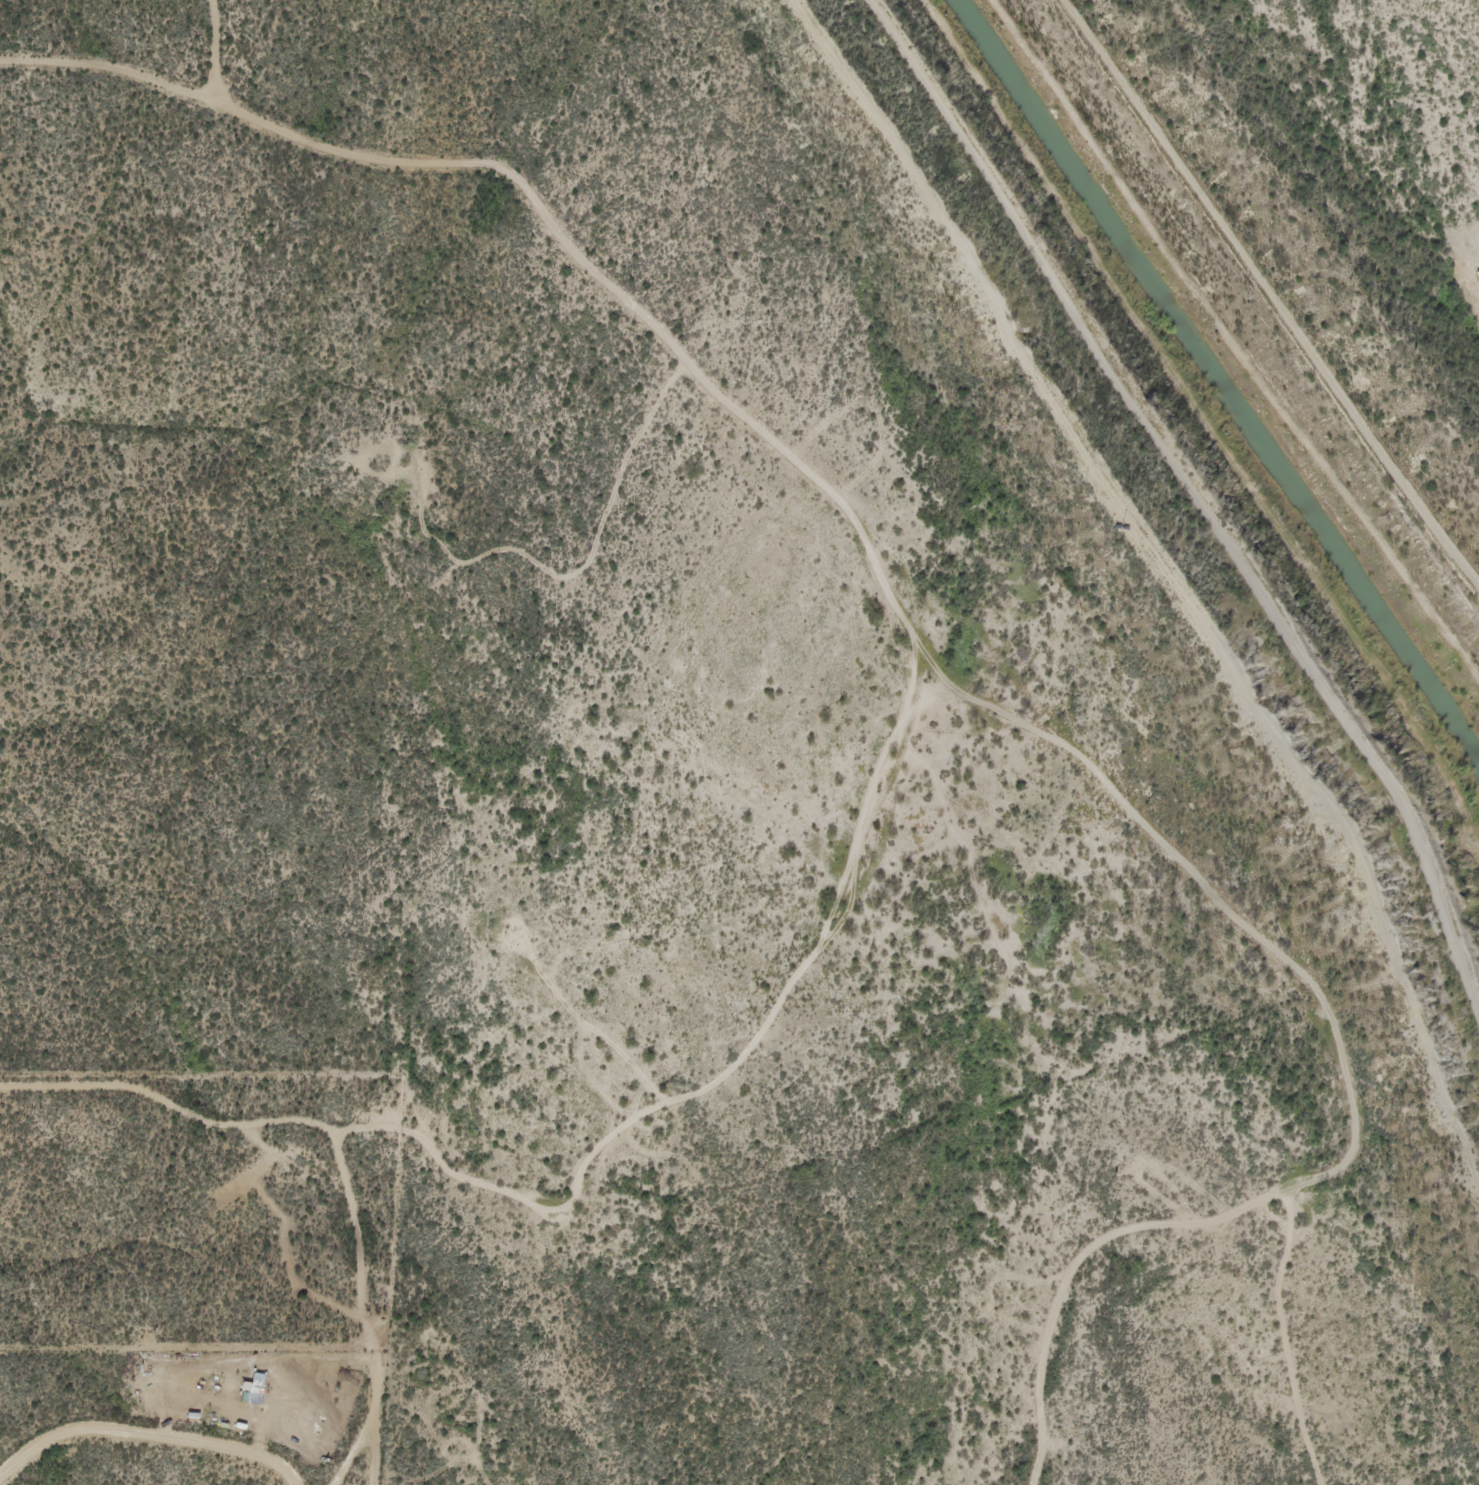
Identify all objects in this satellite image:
road: (905, 572)
road: (417, 1099)
road: (307, 1175)
road: (170, 1482)

